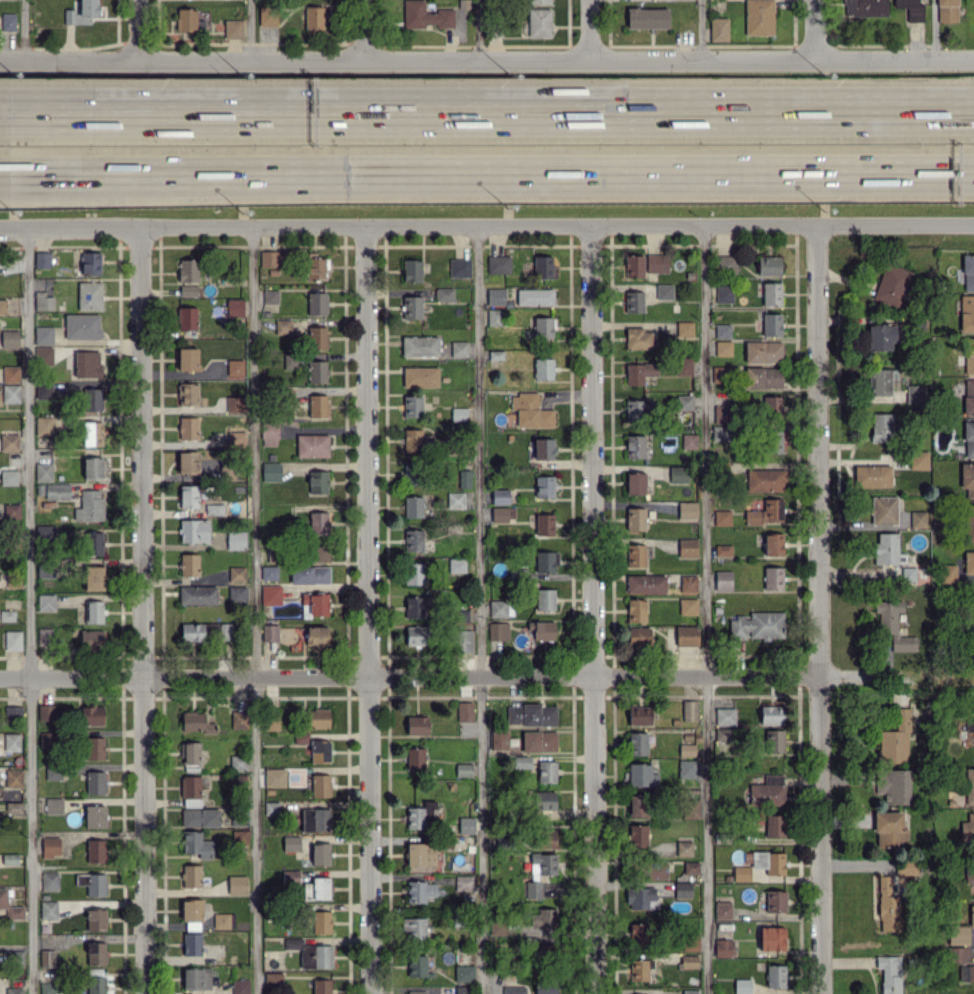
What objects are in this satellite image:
road: (365, 28)
road: (589, 28)
road: (699, 28)
road: (813, 28)
road: (249, 29)
road: (476, 29)
road: (135, 30)
road: (24, 31)
road: (486, 57)
road: (487, 111)
road: (486, 172)
road: (486, 225)
road: (815, 451)
road: (706, 608)
road: (366, 609)
road: (477, 609)
road: (591, 609)
road: (141, 610)
road: (253, 610)
road: (28, 611)
road: (407, 678)
road: (817, 836)

